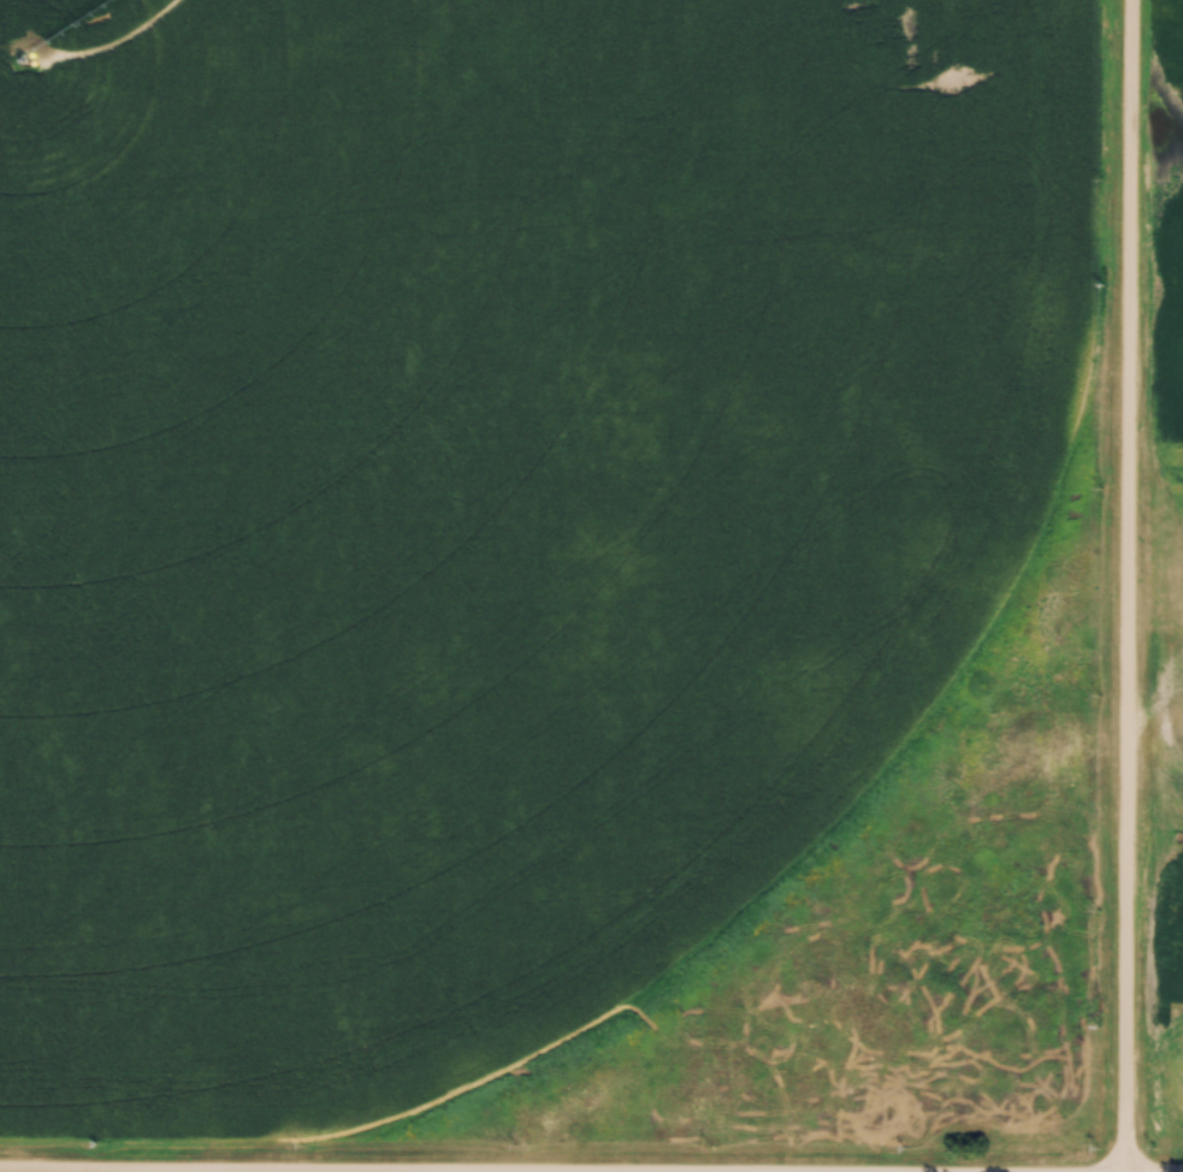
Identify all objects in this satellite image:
road: (1125, 585)

